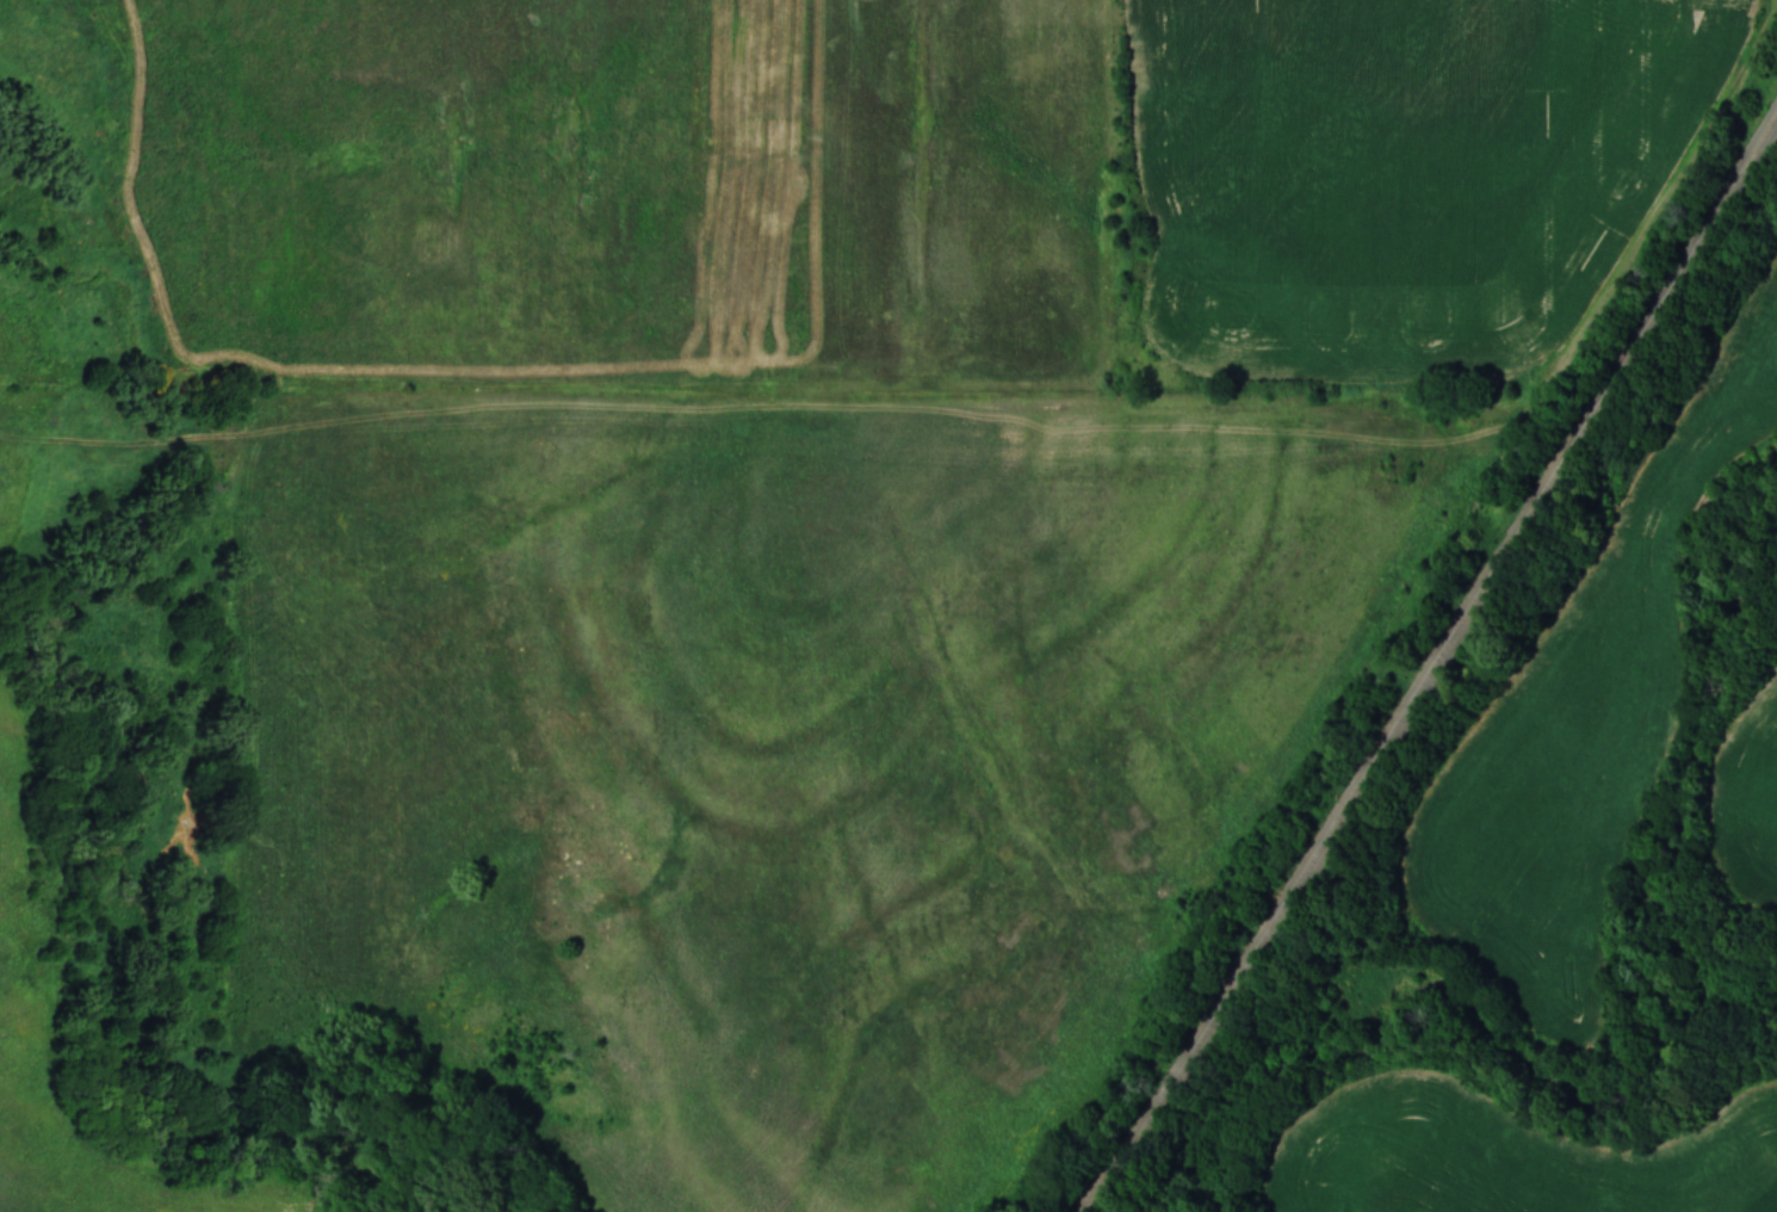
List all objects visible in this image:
crop: (1399, 172)
railway: (1435, 668)
crop: (1580, 722)
crop: (1747, 784)
crop: (1511, 1155)

